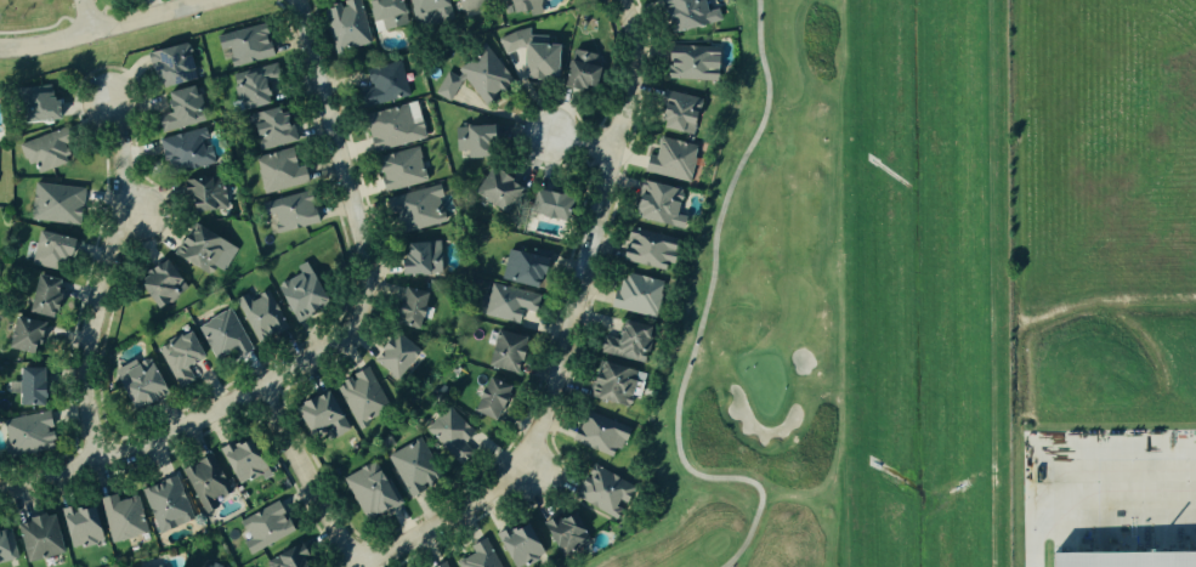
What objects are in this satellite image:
building: (467, 4)
building: (521, 6)
building: (426, 11)
building: (380, 13)
building: (687, 15)
park: (34, 16)
road: (89, 16)
building: (345, 25)
road: (106, 28)
building: (243, 45)
building: (529, 55)
building: (690, 63)
building: (169, 66)
building: (579, 70)
building: (475, 78)
building: (254, 86)
building: (381, 86)
building: (35, 104)
building: (178, 109)
building: (678, 114)
building: (391, 127)
building: (267, 129)
building: (471, 141)
road: (578, 141)
building: (185, 151)
building: (45, 152)
road: (342, 158)
building: (669, 160)
building: (398, 170)
building: (278, 171)
building: (494, 191)
building: (203, 195)
building: (55, 204)
building: (546, 205)
building: (656, 205)
building: (415, 210)
building: (288, 211)
building: (646, 249)
building: (47, 251)
building: (202, 251)
building: (416, 260)
building: (522, 270)
road: (104, 280)
building: (159, 284)
building: (300, 293)
building: (635, 294)
building: (41, 296)
building: (506, 304)
building: (407, 308)
road: (704, 313)
building: (260, 316)
park: (760, 321)
road: (572, 325)
building: (222, 335)
building: (22, 336)
building: (624, 342)
building: (503, 352)
building: (392, 357)
building: (178, 358)
building: (136, 381)
building: (611, 385)
building: (28, 387)
building: (361, 396)
building: (487, 398)
building: (319, 414)
road: (192, 426)
building: (448, 432)
building: (25, 435)
building: (597, 435)
building: (242, 463)
building: (412, 469)
road: (311, 478)
building: (205, 483)
building: (601, 491)
building: (369, 492)
road: (1084, 494)
building: (165, 504)
building: (121, 517)
building: (79, 527)
building: (262, 528)
building: (565, 534)
building: (36, 538)
building: (6, 545)
building: (517, 545)
building: (477, 556)
building: (285, 559)
building: (1098, 561)
building: (198, 566)
building: (443, 566)

